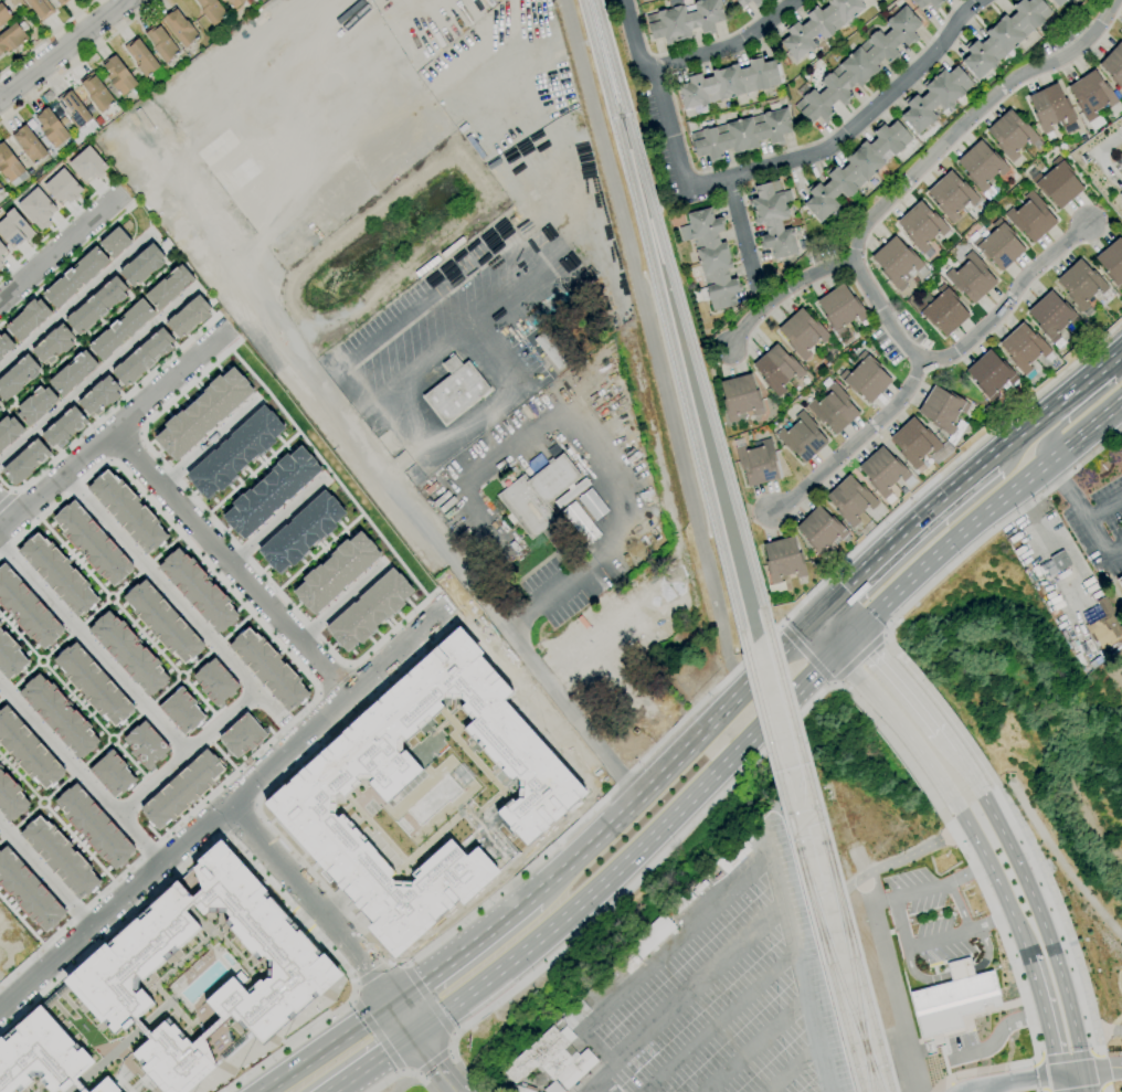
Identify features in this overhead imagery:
building: (872, 0)
building: (874, 0)
building: (62, 2)
building: (235, 2)
building: (1057, 2)
building: (756, 6)
building: (41, 8)
building: (934, 8)
building: (212, 10)
building: (4, 14)
building: (685, 21)
building: (819, 25)
building: (181, 28)
building: (1121, 29)
building: (1005, 35)
road: (47, 36)
building: (12, 38)
road: (636, 38)
building: (161, 43)
road: (728, 49)
road: (64, 52)
building: (141, 57)
road: (78, 62)
building: (1114, 64)
building: (859, 66)
building: (119, 75)
building: (729, 83)
building: (96, 93)
building: (1093, 97)
building: (935, 98)
building: (74, 108)
building: (1052, 110)
road: (620, 115)
road: (972, 116)
building: (52, 127)
building: (742, 135)
building: (1010, 135)
building: (30, 145)
road: (805, 157)
building: (86, 163)
building: (11, 167)
building: (982, 167)
building: (856, 169)
building: (1113, 172)
building: (1058, 183)
building: (62, 187)
building: (1, 188)
building: (951, 195)
road: (125, 201)
road: (193, 203)
building: (36, 208)
building: (1031, 216)
building: (773, 219)
building: (677, 220)
road: (56, 225)
building: (922, 226)
building: (13, 229)
road: (742, 230)
building: (114, 242)
building: (999, 245)
road: (60, 247)
building: (1, 252)
building: (711, 258)
road: (538, 261)
building: (898, 262)
building: (1112, 262)
building: (0, 264)
building: (141, 264)
road: (65, 265)
building: (74, 277)
building: (972, 277)
building: (1081, 284)
building: (168, 286)
road: (783, 291)
road: (1010, 299)
road: (75, 301)
building: (95, 305)
building: (840, 308)
building: (941, 309)
railway: (681, 314)
road: (886, 314)
building: (188, 316)
building: (1052, 317)
building: (27, 319)
railway: (665, 325)
building: (119, 329)
building: (803, 332)
road: (86, 338)
building: (4, 344)
building: (52, 344)
building: (1024, 348)
building: (552, 349)
building: (0, 358)
building: (142, 358)
road: (1112, 359)
building: (777, 369)
building: (72, 372)
road: (98, 373)
building: (991, 374)
building: (17, 375)
road: (399, 378)
building: (866, 378)
building: (456, 390)
road: (1072, 391)
building: (98, 395)
building: (740, 397)
building: (0, 405)
building: (35, 405)
building: (834, 407)
road: (1120, 409)
road: (108, 410)
building: (943, 410)
building: (202, 413)
building: (63, 427)
road: (1084, 430)
building: (8, 431)
road: (112, 432)
road: (140, 434)
road: (1016, 436)
building: (802, 437)
road: (1042, 438)
road: (854, 442)
building: (914, 442)
road: (209, 443)
road: (123, 446)
road: (369, 449)
building: (0, 450)
building: (234, 452)
road: (107, 460)
building: (24, 462)
road: (401, 463)
building: (758, 463)
road: (251, 470)
road: (328, 471)
building: (883, 471)
road: (938, 477)
road: (1056, 484)
road: (12, 491)
building: (269, 491)
building: (539, 491)
building: (572, 492)
road: (6, 499)
building: (850, 500)
road: (1104, 507)
building: (126, 510)
road: (6, 512)
road: (1084, 512)
road: (276, 519)
building: (581, 522)
road: (908, 527)
building: (821, 530)
building: (300, 531)
road: (229, 539)
road: (951, 542)
building: (92, 543)
road: (167, 547)
road: (318, 551)
road: (73, 556)
road: (230, 561)
building: (783, 562)
building: (1060, 562)
road: (144, 566)
building: (336, 572)
building: (56, 573)
building: (1120, 581)
road: (935, 582)
road: (126, 584)
road: (558, 587)
building: (197, 590)
road: (108, 593)
road: (342, 602)
traffic signals: (830, 602)
road: (181, 606)
building: (27, 609)
building: (369, 609)
road: (94, 612)
road: (818, 614)
road: (844, 615)
building: (162, 623)
road: (236, 625)
road: (783, 626)
traffic signals: (806, 626)
building: (1105, 627)
traffic signals: (858, 628)
road: (75, 629)
road: (883, 633)
road: (18, 636)
road: (145, 637)
road: (821, 639)
road: (846, 640)
road: (891, 642)
road: (872, 644)
road: (214, 645)
road: (92, 646)
road: (56, 647)
building: (127, 653)
traffic signals: (835, 653)
road: (391, 654)
road: (807, 655)
building: (10, 656)
road: (38, 656)
road: (857, 657)
road: (197, 662)
road: (348, 664)
road: (848, 665)
building: (267, 668)
road: (392, 672)
road: (184, 674)
road: (24, 675)
road: (334, 679)
road: (313, 680)
building: (214, 681)
road: (833, 682)
building: (93, 686)
road: (840, 686)
road: (165, 690)
road: (6, 691)
road: (318, 693)
road: (915, 693)
road: (75, 700)
road: (202, 701)
road: (145, 708)
building: (543, 708)
building: (181, 710)
building: (57, 715)
road: (948, 717)
road: (126, 725)
building: (241, 735)
road: (116, 738)
road: (949, 740)
road: (913, 741)
building: (145, 744)
building: (574, 750)
building: (27, 751)
road: (902, 751)
road: (186, 752)
road: (95, 753)
road: (220, 753)
road: (133, 763)
road: (673, 763)
building: (0, 766)
road: (75, 771)
road: (970, 771)
road: (78, 773)
building: (112, 773)
road: (19, 777)
road: (56, 788)
building: (182, 788)
building: (306, 792)
building: (10, 797)
road: (45, 799)
road: (25, 816)
road: (236, 819)
road: (582, 819)
building: (94, 826)
road: (7, 833)
road: (279, 838)
road: (78, 844)
road: (172, 848)
road: (632, 852)
building: (59, 856)
railway: (828, 859)
road: (899, 860)
road: (181, 868)
railway: (802, 871)
road: (43, 876)
road: (739, 876)
road: (635, 880)
road: (998, 881)
building: (28, 891)
road: (313, 902)
road: (959, 905)
road: (1061, 915)
road: (21, 922)
road: (899, 926)
road: (1044, 927)
building: (653, 936)
road: (464, 951)
road: (949, 960)
road: (956, 960)
road: (14, 961)
road: (389, 962)
building: (628, 962)
road: (404, 964)
railway: (850, 966)
building: (118, 967)
road: (933, 969)
railway: (836, 971)
road: (372, 973)
road: (955, 973)
road: (935, 979)
road: (356, 984)
road: (892, 984)
road: (1018, 985)
road: (691, 989)
road: (428, 998)
building: (952, 998)
road: (353, 999)
traffic signals: (393, 1004)
road: (994, 1009)
building: (575, 1015)
road: (1046, 1015)
road: (710, 1027)
road: (1108, 1029)
road: (454, 1033)
road: (378, 1035)
traffic signals: (413, 1035)
road: (998, 1035)
road: (295, 1039)
road: (944, 1039)
road: (328, 1048)
road: (422, 1048)
road: (451, 1050)
road: (743, 1053)
road: (1094, 1053)
building: (41, 1054)
road: (1065, 1058)
building: (552, 1059)
road: (1036, 1059)
road: (433, 1061)
road: (371, 1062)
road: (1103, 1069)
road: (1102, 1070)
traffic signals: (1084, 1071)
road: (400, 1072)
road: (416, 1073)
road: (1071, 1073)
road: (404, 1075)
road: (1040, 1075)
traffic signals: (1059, 1075)
road: (782, 1078)
road: (599, 1079)
road: (1086, 1081)
road: (1013, 1082)
road: (1059, 1083)
building: (105, 1085)
road: (606, 1085)
road: (951, 1086)
building: (553, 1088)
road: (1104, 1088)
building: (521, 1089)
road: (1102, 1089)
road: (929, 1090)
road: (1089, 1090)
road: (455, 1091)
road: (966, 1091)
road: (967, 1091)
road: (1045, 1091)

